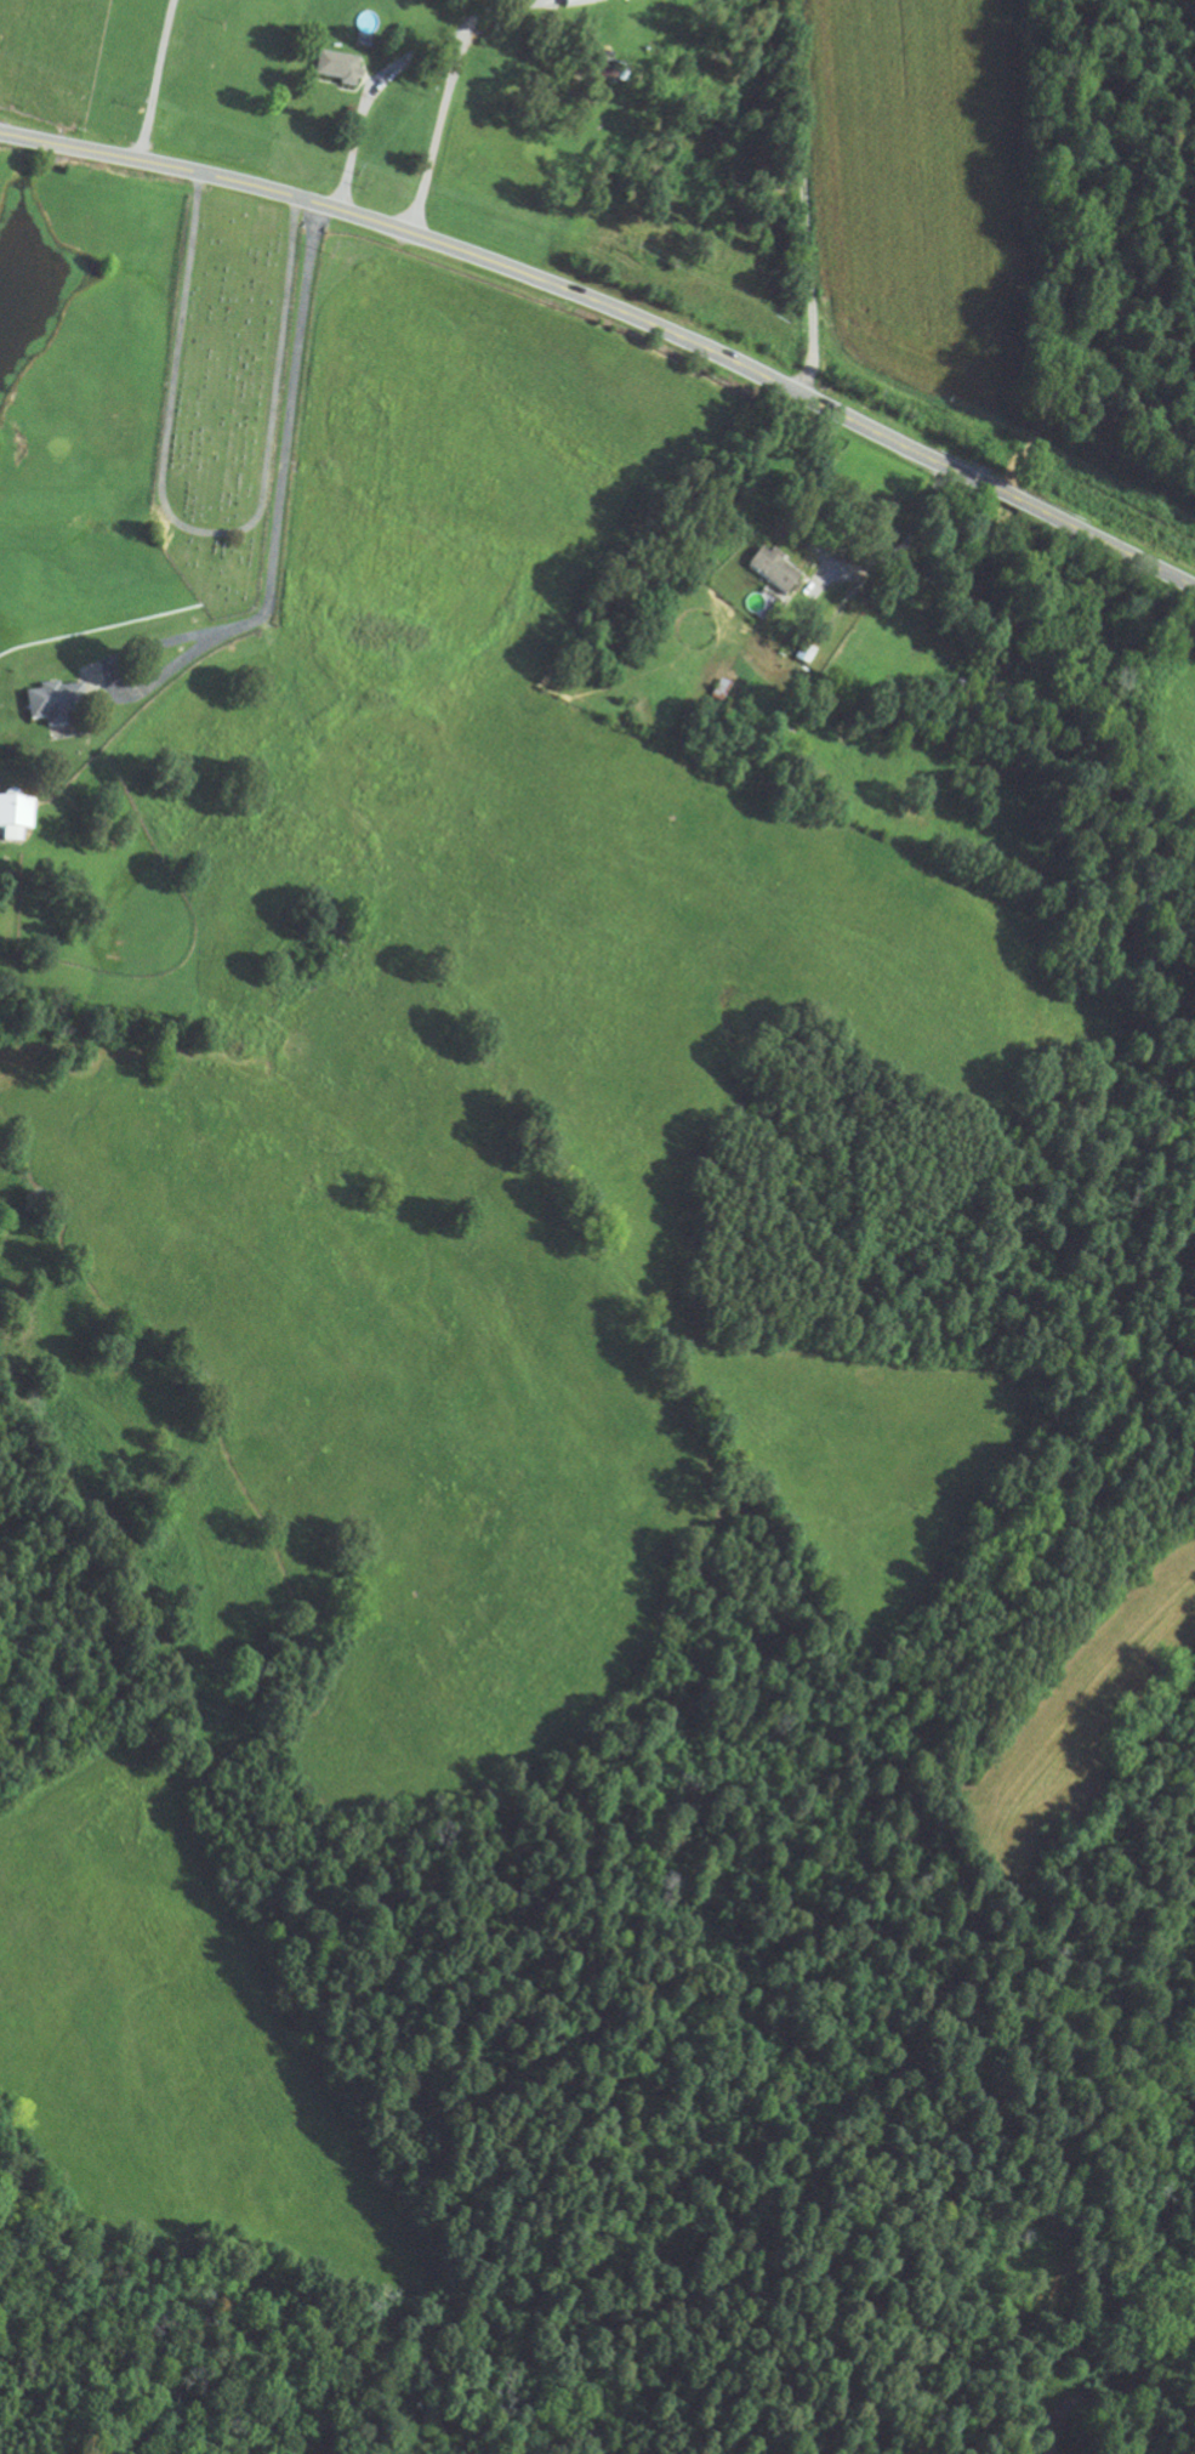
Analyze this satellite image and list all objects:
building: (575, 4)
building: (336, 72)
road: (801, 198)
road: (616, 307)
park: (222, 398)
building: (770, 575)
building: (718, 693)
building: (52, 706)
building: (15, 822)

